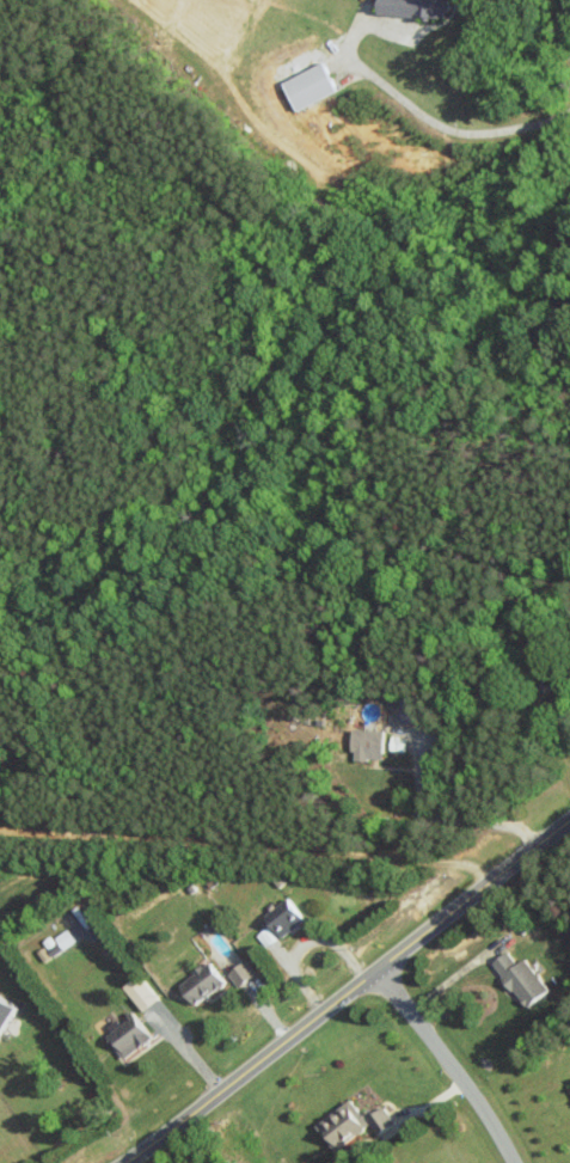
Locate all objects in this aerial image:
building: (413, 7)
building: (307, 86)
road: (441, 126)
building: (366, 742)
road: (454, 820)
building: (283, 917)
building: (264, 936)
building: (240, 972)
building: (519, 977)
building: (202, 981)
road: (347, 992)
building: (5, 1010)
building: (127, 1035)
road: (182, 1048)
road: (447, 1064)
building: (569, 1085)
building: (379, 1119)
building: (341, 1124)

